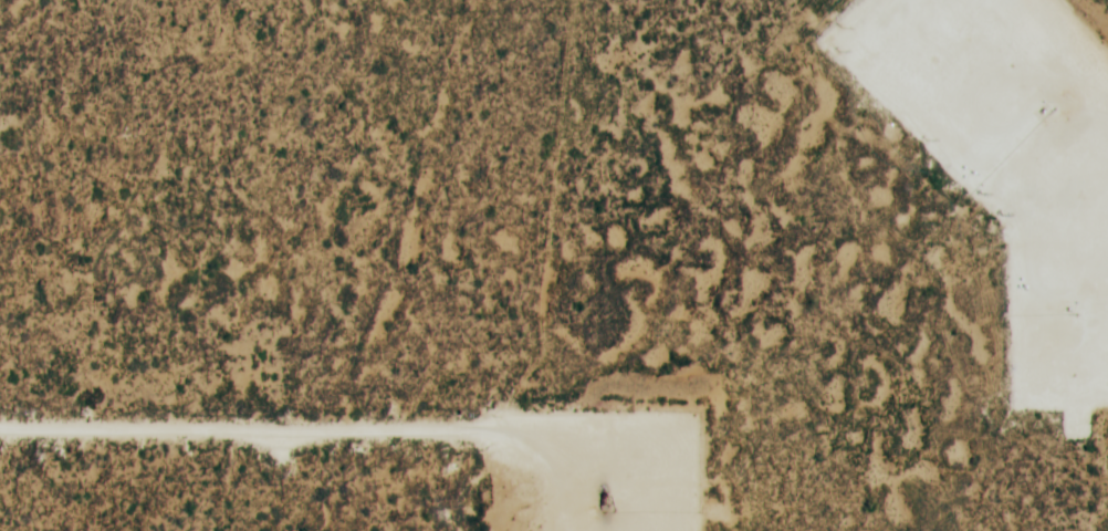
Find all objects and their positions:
road: (375, 423)

